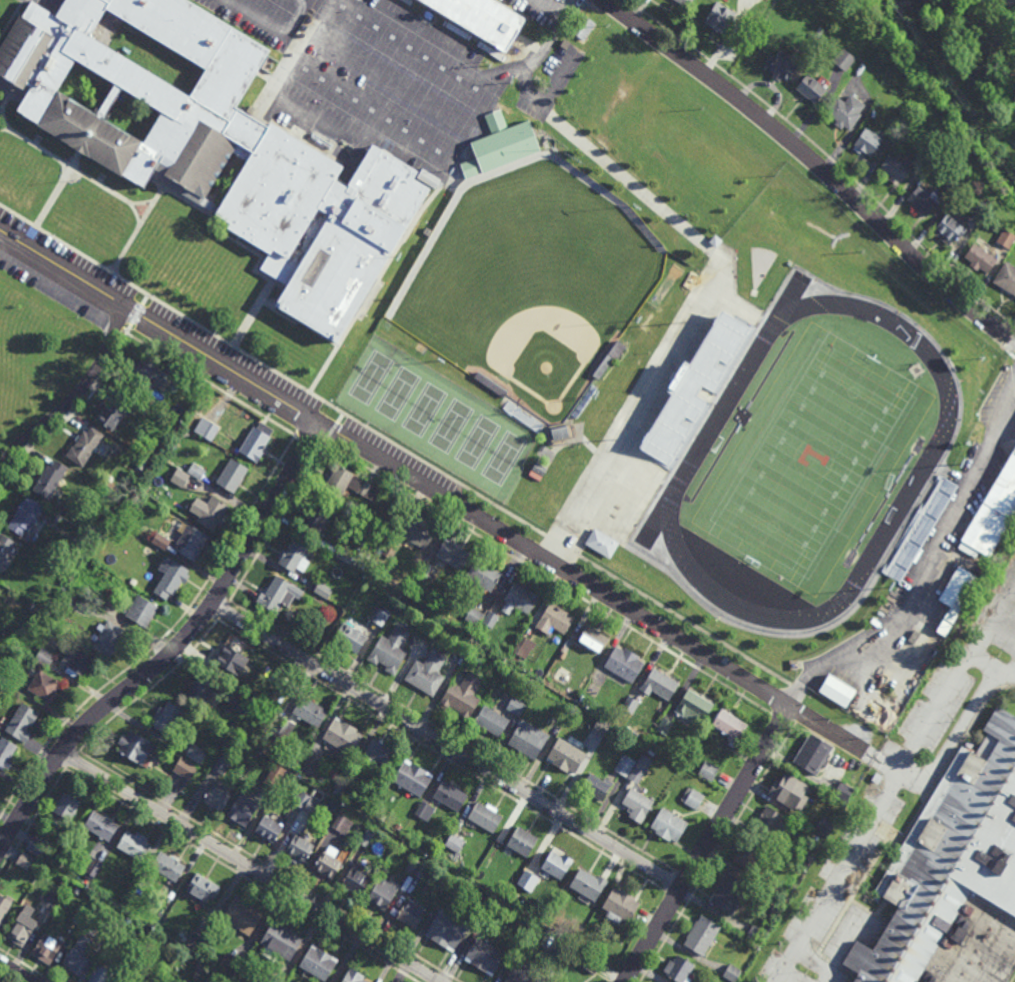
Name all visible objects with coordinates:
road: (52, 0)
building: (685, 2)
building: (1009, 3)
building: (952, 4)
parking lot: (45, 5)
road: (551, 7)
building: (720, 18)
parking lot: (262, 19)
building: (480, 20)
road: (14, 21)
road: (11, 23)
road: (272, 25)
building: (583, 27)
parking lot: (427, 31)
building: (955, 35)
building: (991, 39)
road: (294, 50)
building: (966, 52)
building: (844, 58)
building: (781, 63)
road: (474, 70)
park: (388, 79)
parking lot: (560, 80)
building: (814, 85)
road: (5, 91)
road: (15, 97)
road: (4, 102)
road: (545, 104)
building: (847, 110)
building: (873, 113)
road: (5, 119)
parking lot: (338, 122)
road: (4, 130)
building: (939, 132)
road: (367, 136)
building: (868, 141)
building: (501, 144)
building: (221, 151)
road: (827, 156)
road: (452, 162)
road: (815, 162)
road: (71, 167)
building: (895, 168)
building: (429, 177)
building: (954, 178)
road: (626, 179)
road: (222, 184)
road: (57, 188)
road: (177, 195)
building: (924, 201)
road: (144, 204)
building: (982, 208)
road: (137, 216)
building: (950, 228)
road: (138, 230)
building: (427, 231)
road: (404, 235)
building: (1006, 238)
road: (238, 240)
road: (256, 251)
building: (983, 257)
road: (391, 261)
road: (256, 270)
road: (116, 275)
building: (1007, 277)
park: (530, 280)
park: (753, 292)
parking lot: (59, 296)
road: (138, 315)
road: (1011, 335)
road: (1013, 345)
parking lot: (226, 354)
building: (611, 358)
track: (769, 370)
park: (916, 370)
road: (324, 371)
building: (147, 375)
park: (371, 377)
building: (491, 384)
road: (211, 386)
building: (696, 389)
building: (591, 391)
park: (398, 393)
road: (75, 397)
road: (664, 401)
park: (425, 409)
building: (578, 410)
building: (115, 413)
building: (524, 416)
road: (306, 418)
road: (69, 420)
park: (451, 425)
road: (334, 427)
building: (207, 428)
building: (561, 432)
stadium: (785, 433)
building: (258, 441)
park: (478, 442)
road: (307, 444)
building: (84, 446)
road: (323, 446)
park: (503, 458)
park: (813, 458)
track: (714, 462)
track: (689, 466)
building: (540, 469)
building: (197, 471)
road: (441, 473)
building: (233, 476)
building: (180, 477)
building: (50, 479)
building: (348, 484)
road: (437, 492)
track: (883, 502)
building: (211, 512)
road: (440, 512)
building: (994, 512)
building: (26, 516)
building: (319, 519)
building: (68, 527)
road: (275, 527)
building: (919, 530)
building: (417, 533)
building: (161, 542)
building: (191, 542)
building: (601, 543)
building: (5, 549)
building: (390, 549)
building: (295, 554)
building: (453, 555)
building: (346, 556)
road: (563, 567)
road: (925, 569)
building: (426, 571)
building: (484, 576)
building: (172, 578)
building: (325, 591)
road: (216, 594)
building: (280, 595)
building: (520, 599)
building: (962, 600)
building: (69, 601)
building: (33, 607)
road: (205, 610)
road: (224, 610)
building: (39, 611)
building: (142, 612)
building: (379, 617)
building: (475, 617)
building: (491, 620)
building: (555, 620)
road: (687, 622)
road: (994, 623)
building: (945, 629)
road: (161, 639)
building: (352, 639)
building: (109, 640)
building: (593, 640)
road: (175, 649)
building: (523, 649)
road: (662, 649)
building: (391, 650)
building: (565, 651)
building: (45, 659)
building: (233, 661)
building: (79, 664)
building: (626, 665)
road: (994, 667)
road: (1013, 672)
building: (427, 673)
building: (3, 682)
building: (660, 686)
building: (45, 688)
road: (153, 688)
building: (202, 691)
building: (839, 693)
building: (463, 696)
building: (242, 702)
building: (586, 702)
building: (631, 704)
building: (516, 706)
building: (696, 706)
building: (311, 708)
building: (169, 715)
building: (492, 719)
building: (22, 721)
road: (782, 721)
building: (664, 723)
building: (284, 726)
building: (603, 726)
building: (730, 726)
building: (344, 734)
road: (453, 737)
building: (528, 737)
road: (68, 742)
building: (136, 744)
road: (448, 746)
building: (382, 750)
building: (6, 751)
building: (197, 751)
building: (652, 751)
building: (814, 752)
building: (567, 753)
road: (441, 755)
road: (946, 757)
building: (223, 759)
road: (72, 760)
road: (53, 762)
building: (312, 762)
building: (625, 763)
building: (185, 766)
building: (640, 767)
building: (709, 769)
building: (276, 774)
building: (413, 775)
building: (877, 776)
building: (596, 783)
building: (341, 786)
building: (789, 789)
building: (844, 790)
building: (450, 794)
building: (218, 795)
building: (693, 796)
building: (304, 797)
building: (638, 802)
building: (67, 804)
building: (313, 804)
road: (886, 804)
building: (244, 807)
building: (424, 810)
building: (485, 814)
building: (773, 819)
road: (32, 822)
building: (344, 822)
building: (101, 824)
building: (669, 824)
building: (824, 824)
building: (270, 827)
building: (368, 835)
building: (522, 839)
building: (455, 841)
building: (136, 843)
building: (37, 844)
road: (708, 845)
building: (783, 845)
building: (301, 846)
road: (718, 851)
building: (750, 855)
building: (25, 859)
building: (329, 862)
building: (412, 863)
building: (557, 863)
building: (91, 864)
building: (169, 864)
road: (270, 866)
road: (249, 867)
building: (422, 867)
building: (480, 873)
road: (241, 876)
building: (358, 877)
building: (458, 877)
road: (687, 878)
building: (957, 878)
building: (528, 879)
building: (589, 882)
building: (769, 884)
building: (73, 886)
building: (204, 886)
building: (138, 889)
building: (500, 889)
building: (77, 890)
building: (385, 891)
building: (731, 892)
building: (172, 894)
building: (525, 897)
road: (676, 897)
building: (50, 898)
building: (4, 905)
building: (621, 905)
building: (84, 906)
building: (776, 909)
building: (57, 912)
building: (411, 913)
building: (244, 914)
building: (78, 916)
building: (126, 922)
building: (23, 924)
building: (528, 925)
building: (447, 928)
building: (702, 933)
building: (757, 933)
building: (196, 939)
building: (282, 939)
road: (847, 942)
building: (560, 946)
building: (47, 947)
building: (144, 952)
building: (79, 954)
building: (484, 955)
road: (806, 955)
building: (320, 961)
building: (581, 961)
building: (232, 962)
building: (593, 963)
building: (200, 966)
building: (680, 968)
road: (16, 971)
building: (733, 972)
building: (102, 973)
building: (524, 973)
building: (197, 975)
building: (123, 976)
building: (356, 976)
building: (227, 978)
building: (274, 978)
building: (0, 981)
building: (188, 981)
building: (553, 981)

